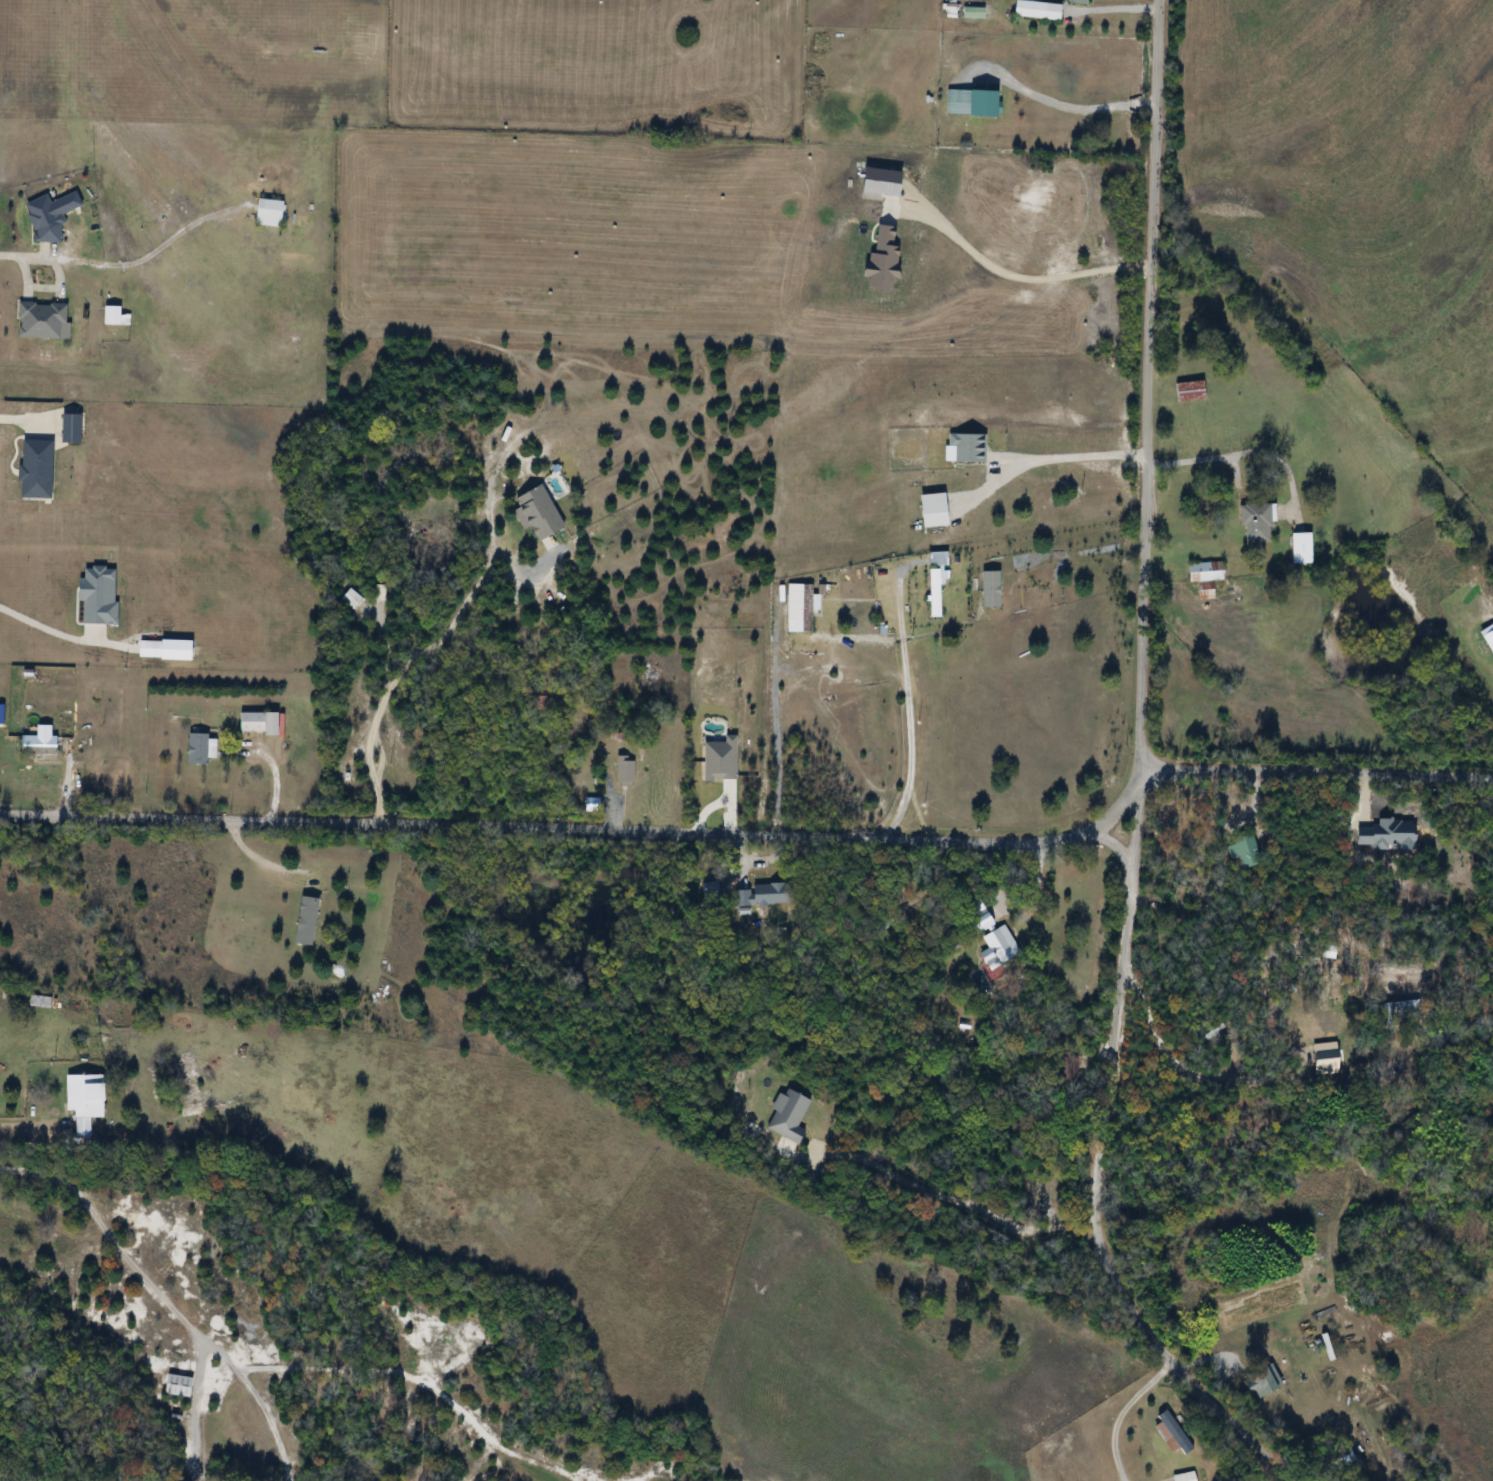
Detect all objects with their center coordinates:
building: (1082, 2)
building: (1041, 12)
building: (989, 105)
road: (1066, 106)
building: (272, 213)
building: (52, 215)
road: (24, 256)
road: (1014, 275)
building: (117, 317)
building: (45, 321)
building: (1192, 392)
road: (24, 418)
road: (1242, 453)
road: (1073, 454)
building: (1259, 523)
building: (1305, 549)
building: (1208, 573)
building: (939, 581)
road: (45, 626)
road: (400, 663)
road: (907, 706)
building: (261, 723)
building: (39, 746)
building: (200, 750)
building: (626, 771)
road: (1138, 776)
road: (760, 835)
building: (1246, 853)
road: (260, 859)
building: (764, 896)
building: (987, 921)
building: (309, 922)
building: (1000, 947)
building: (42, 1002)
road: (1162, 1042)
building: (1328, 1063)
building: (88, 1102)
building: (790, 1116)
road: (21, 1122)
road: (949, 1196)
road: (110, 1231)
building: (1266, 1383)
building: (181, 1386)
road: (256, 1399)
road: (193, 1409)
road: (1119, 1412)
building: (1176, 1433)
building: (1188, 1477)

